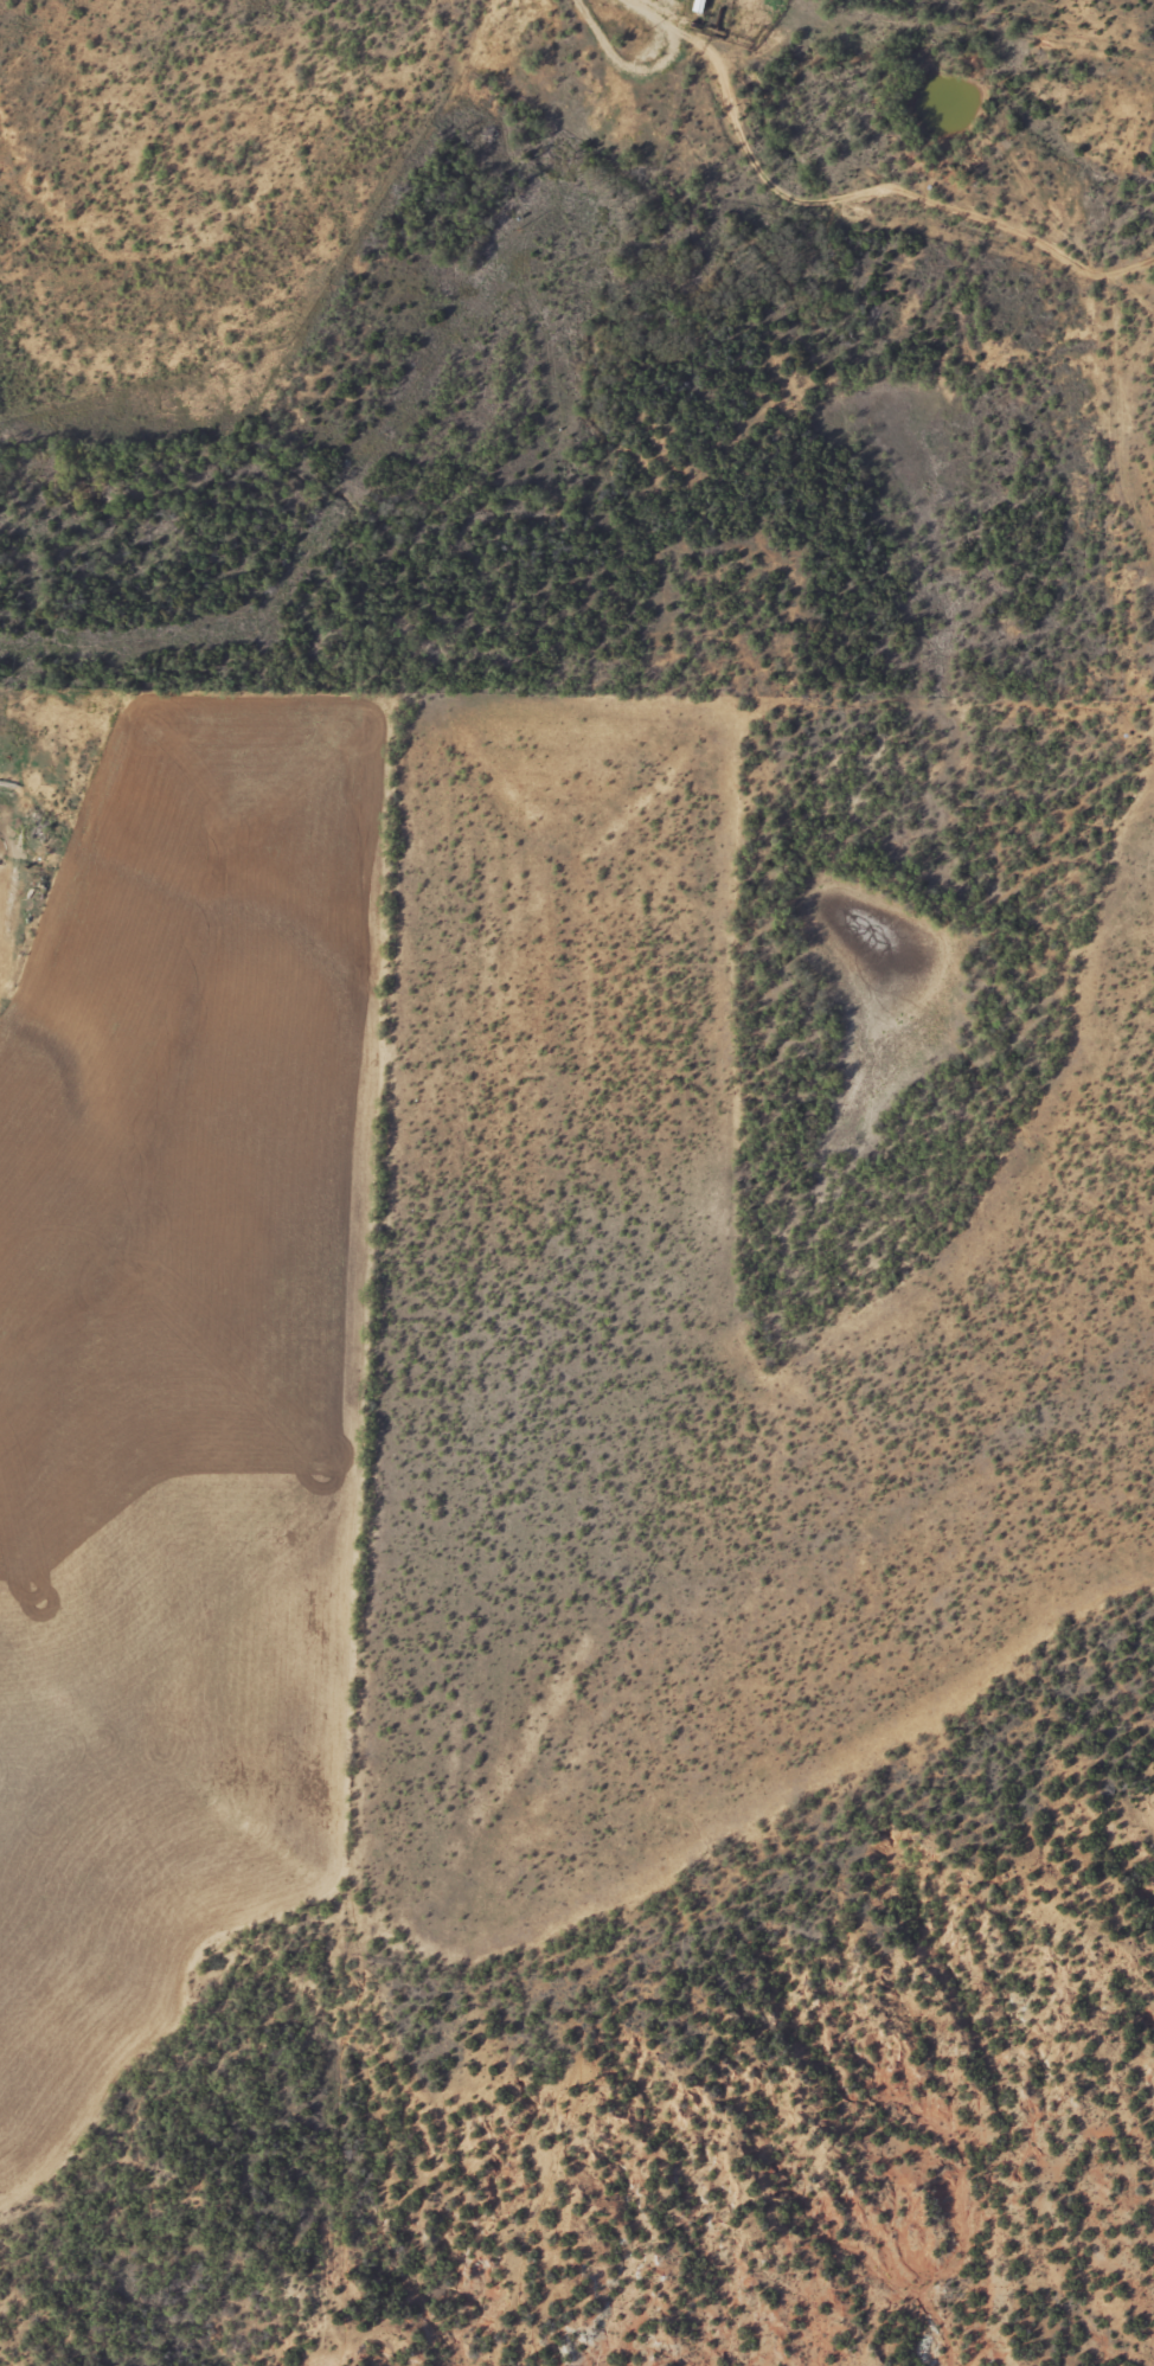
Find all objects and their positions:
road: (611, 7)
road: (626, 7)
road: (1007, 263)

